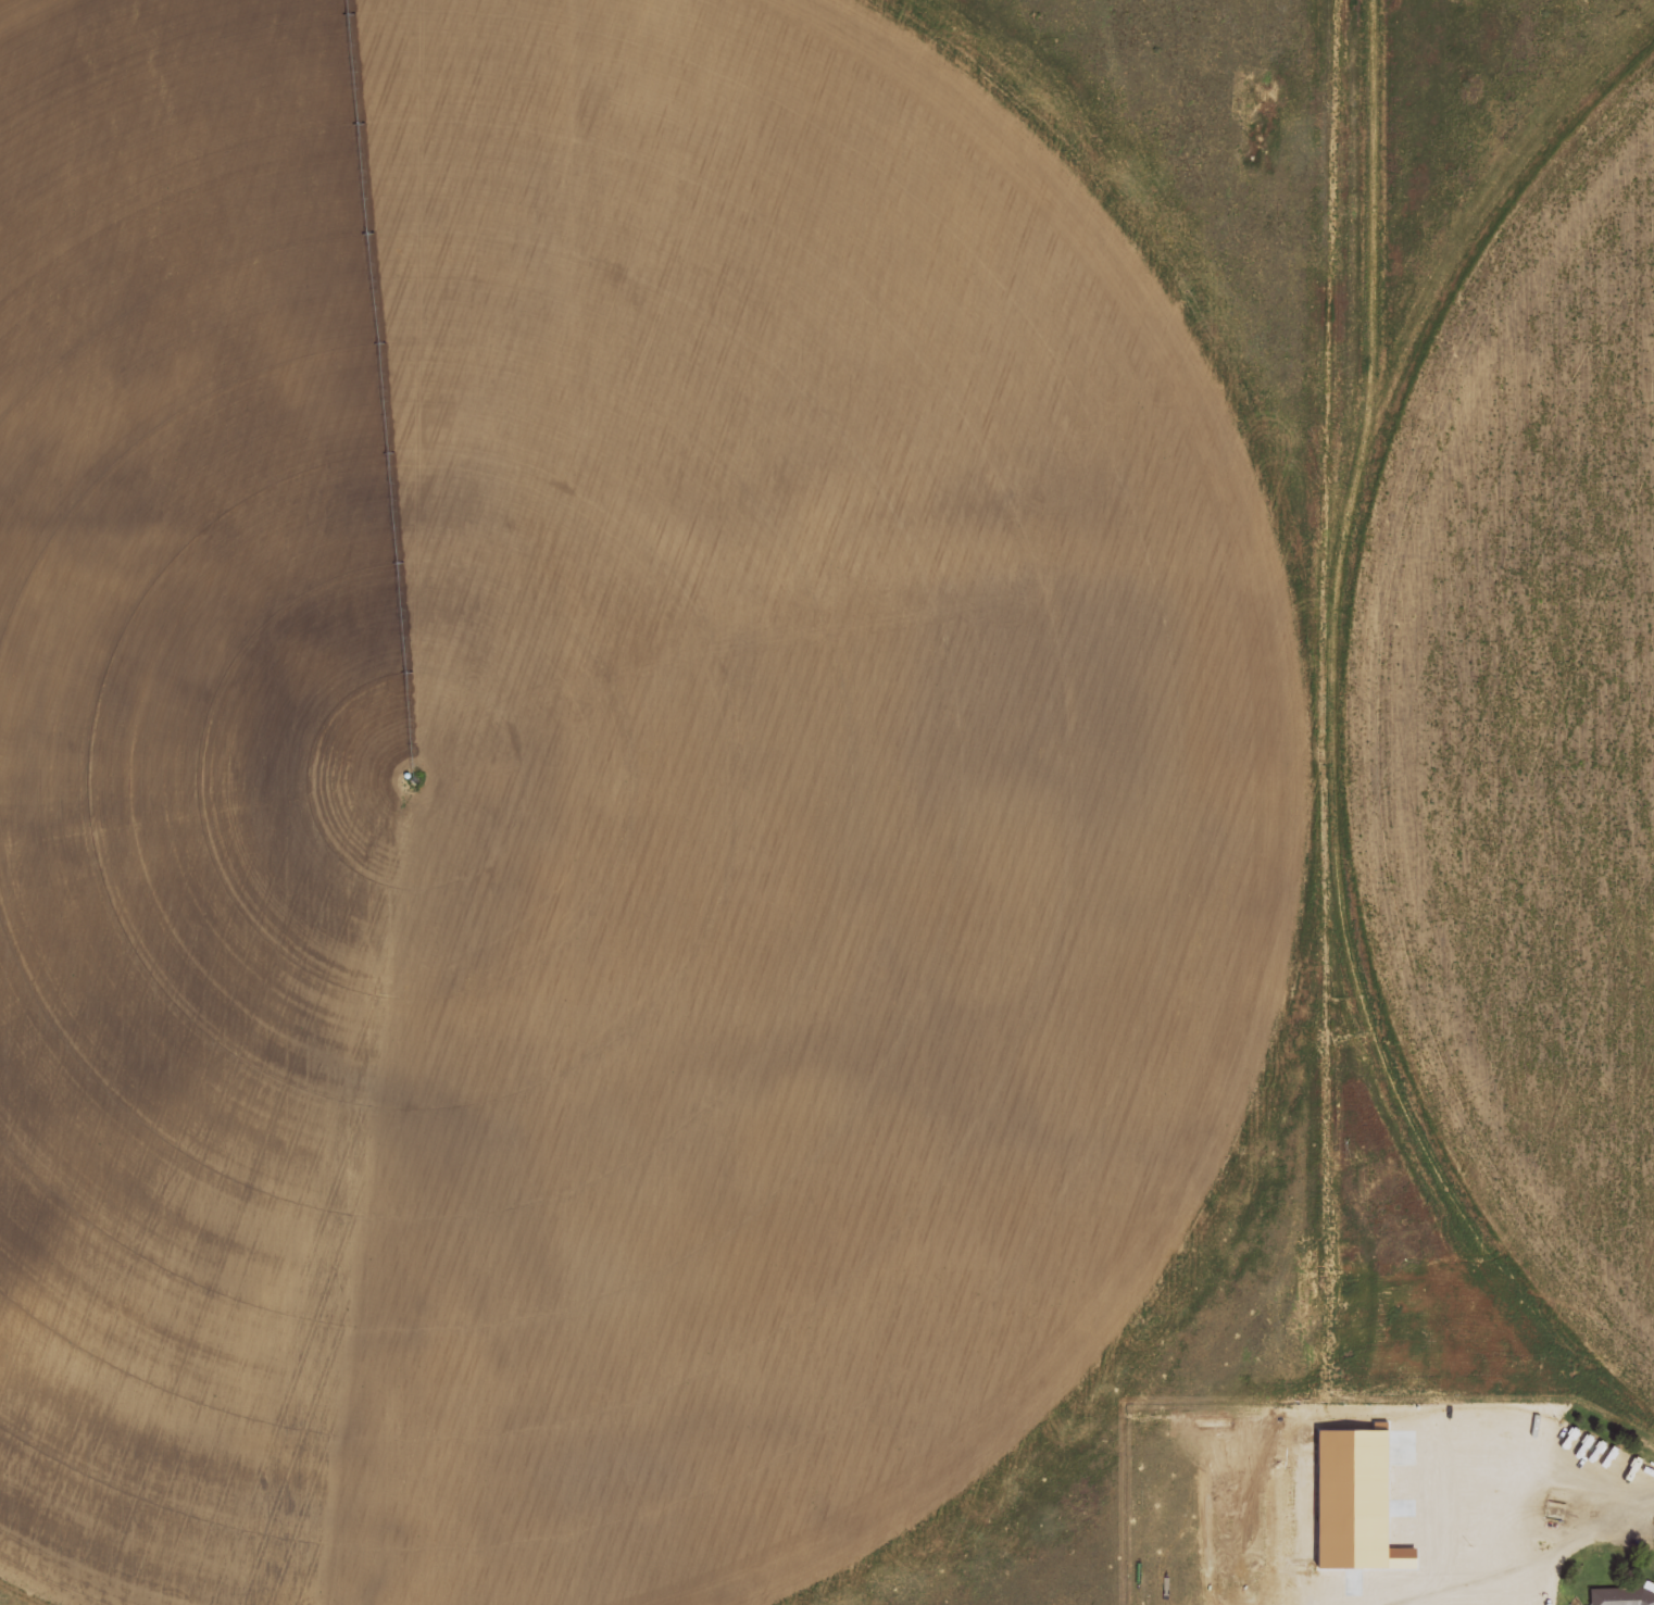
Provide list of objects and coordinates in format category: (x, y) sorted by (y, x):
road: (569, 765)
building: (1653, 1557)
building: (1622, 1594)

